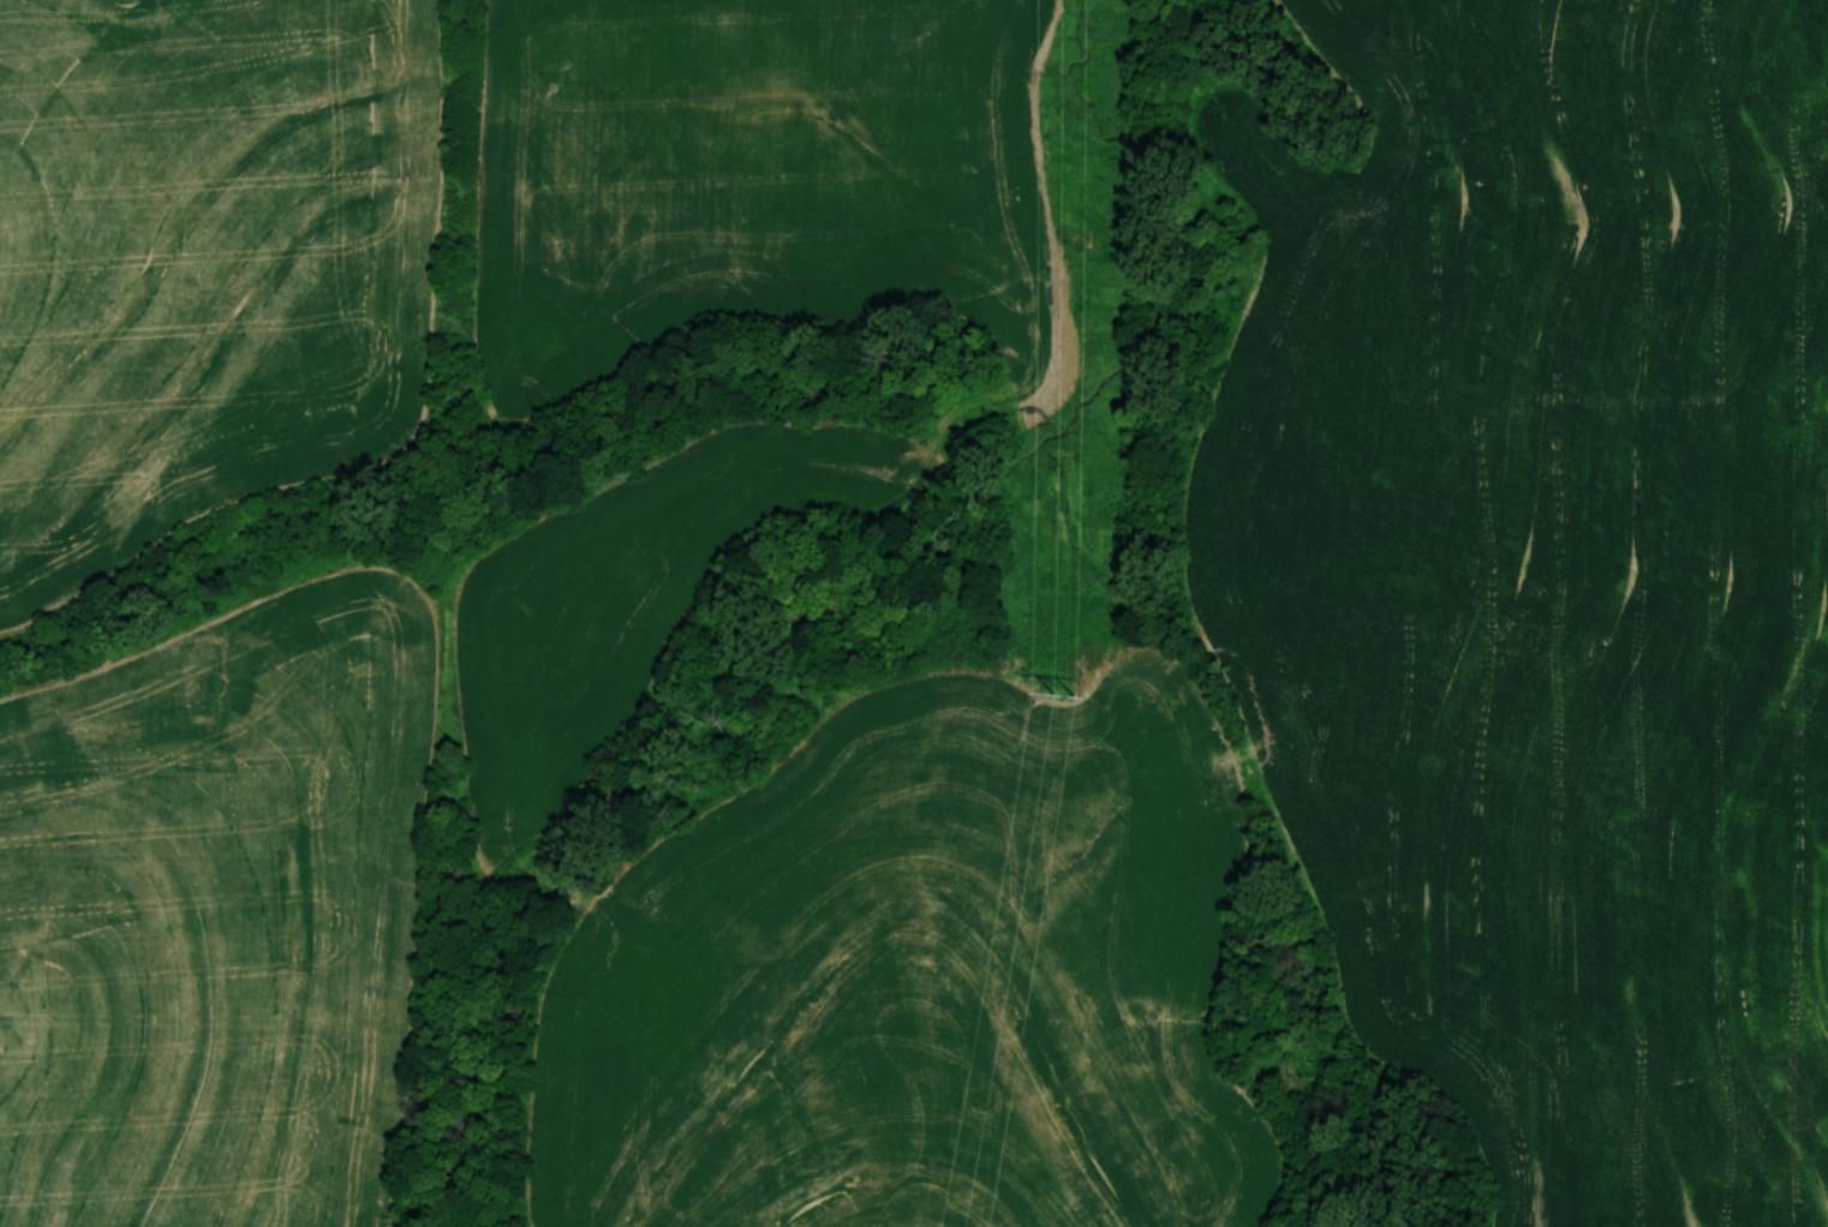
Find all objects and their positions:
power tower: (1068, 700)

